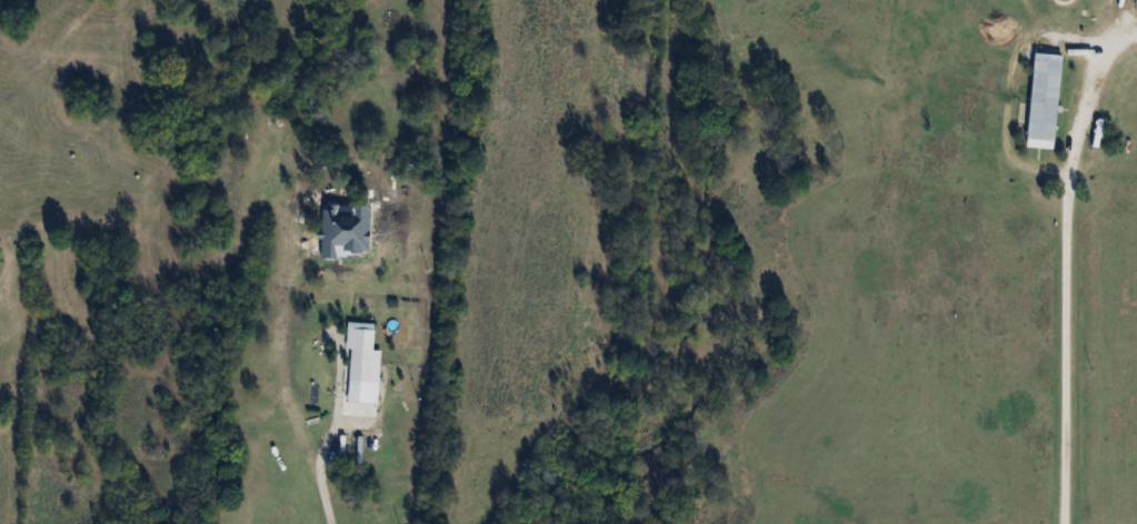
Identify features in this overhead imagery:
building: (1046, 100)
road: (1067, 285)
road: (320, 478)

